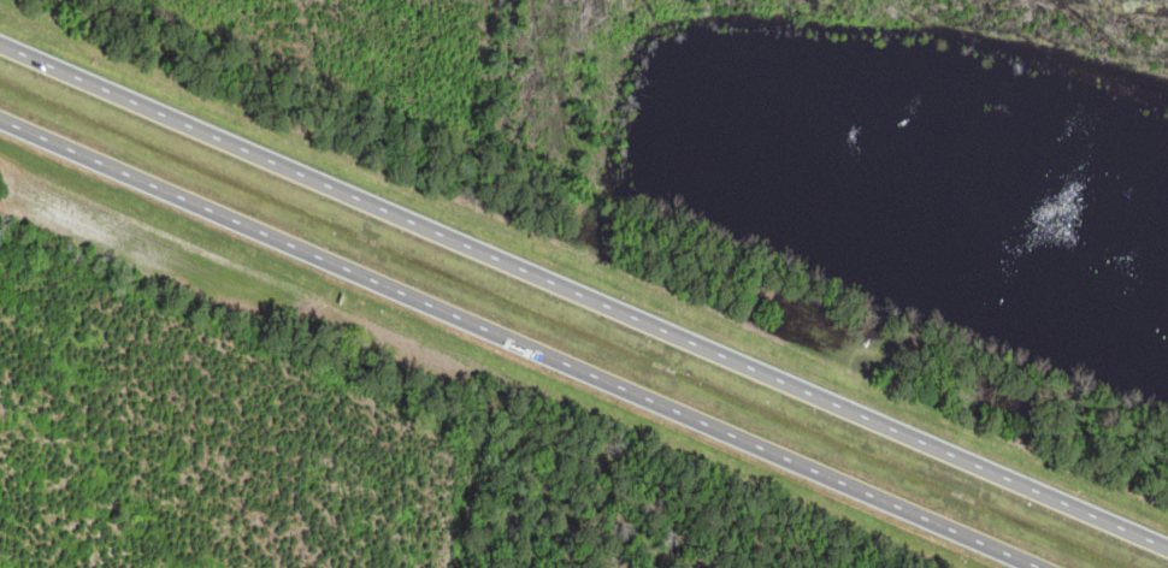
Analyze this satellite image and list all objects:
road: (584, 297)
road: (519, 344)

